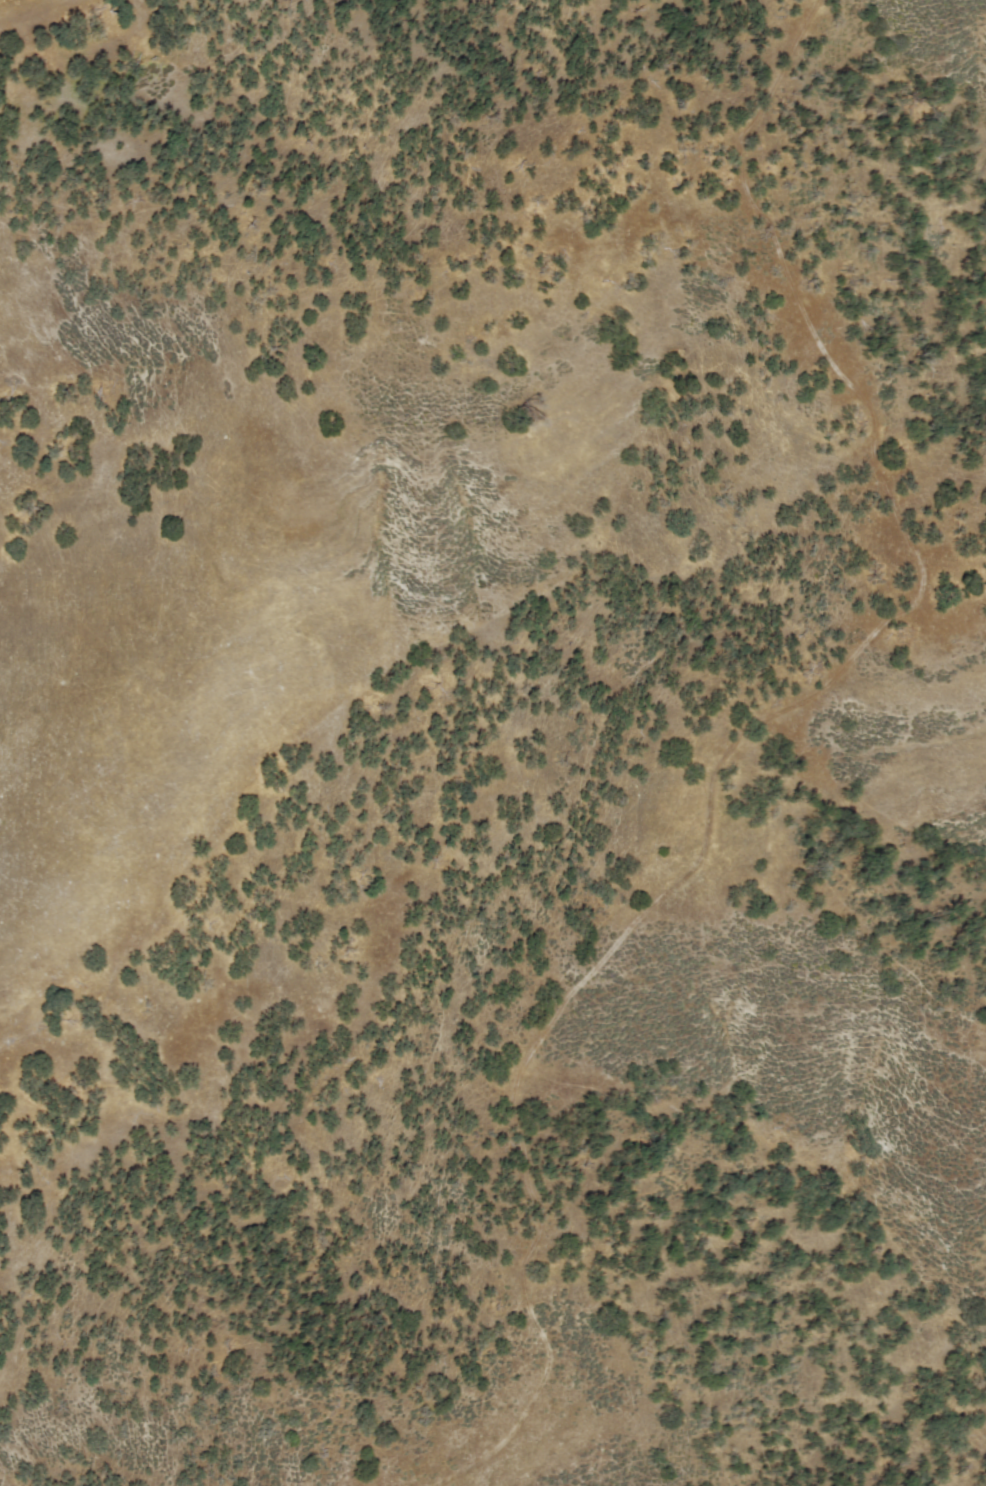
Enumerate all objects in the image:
road: (739, 734)

